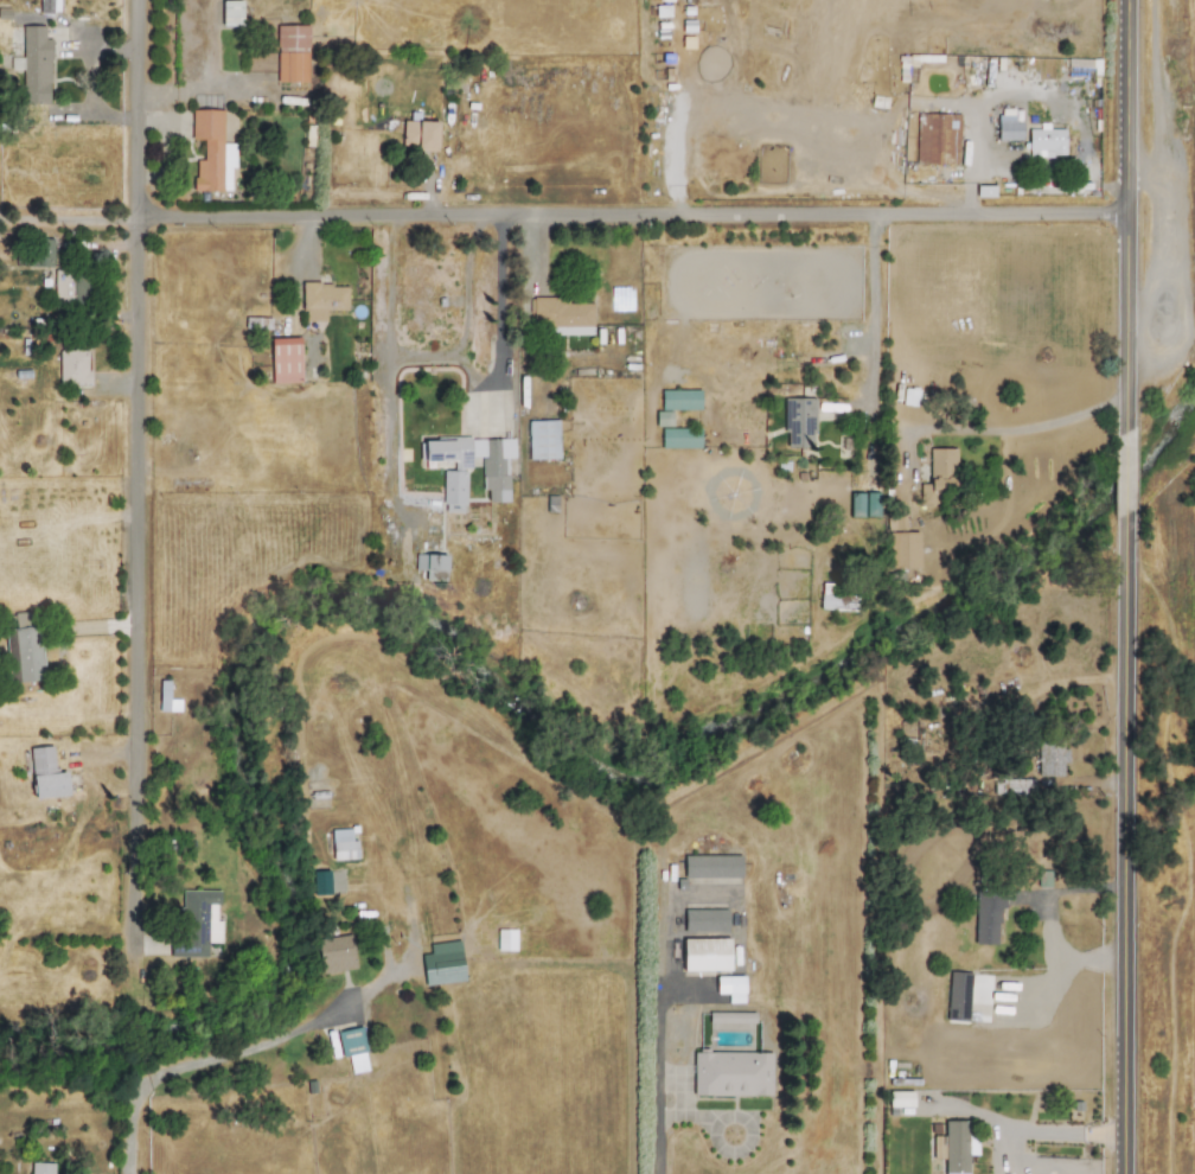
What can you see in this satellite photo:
building: (47, 6)
building: (230, 13)
building: (292, 52)
building: (33, 64)
building: (1008, 128)
building: (418, 134)
building: (937, 138)
building: (211, 152)
road: (969, 160)
road: (560, 211)
road: (1119, 213)
road: (1161, 248)
road: (533, 250)
building: (37, 251)
road: (456, 281)
road: (382, 282)
building: (71, 286)
building: (321, 299)
road: (871, 308)
building: (560, 315)
road: (436, 350)
building: (285, 359)
building: (72, 366)
building: (908, 396)
building: (679, 398)
building: (662, 417)
building: (797, 420)
road: (1003, 430)
building: (679, 438)
building: (542, 439)
road: (1117, 465)
road: (130, 472)
building: (938, 474)
building: (493, 479)
building: (453, 486)
building: (855, 504)
building: (901, 543)
building: (429, 562)
building: (833, 598)
building: (23, 650)
road: (1016, 694)
building: (165, 697)
building: (1049, 759)
building: (45, 774)
building: (1015, 786)
road: (1121, 838)
building: (341, 844)
building: (711, 866)
building: (320, 882)
building: (986, 917)
building: (199, 920)
building: (704, 920)
road: (1044, 920)
building: (504, 939)
building: (333, 953)
building: (704, 953)
building: (441, 963)
building: (729, 987)
building: (966, 998)
road: (653, 1039)
road: (270, 1042)
building: (352, 1048)
building: (730, 1073)
building: (899, 1098)
road: (1046, 1130)
building: (953, 1147)
building: (41, 1168)

